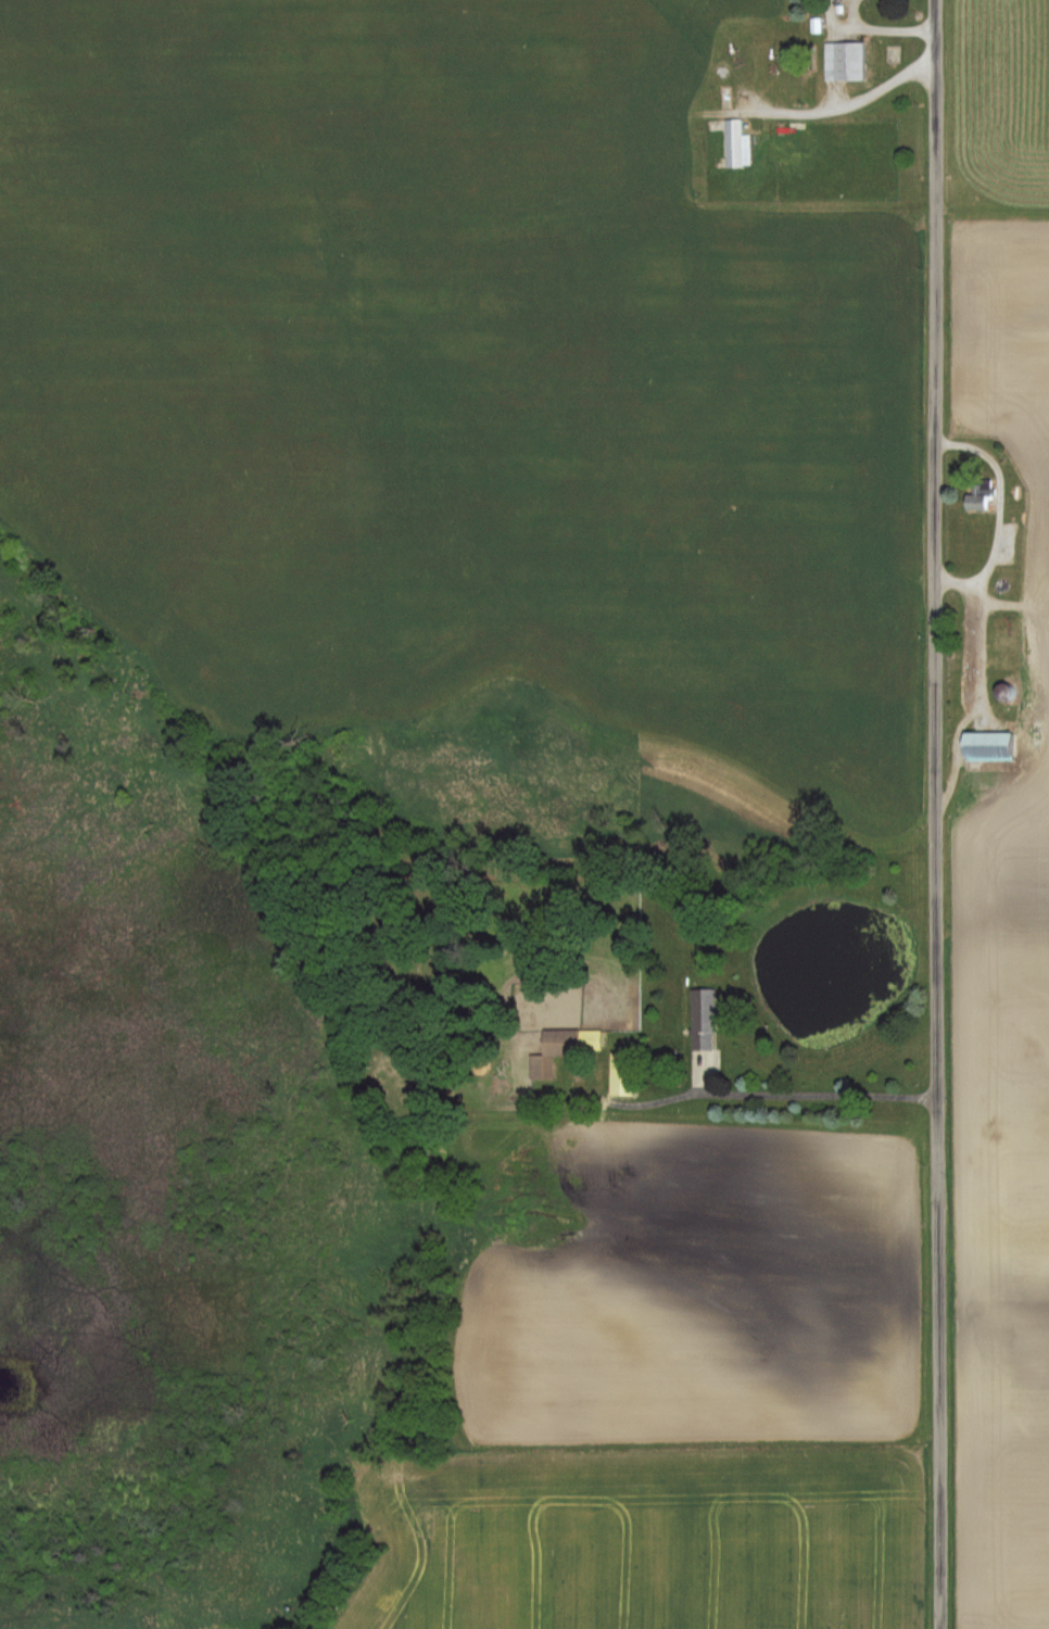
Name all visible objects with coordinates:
building: (844, 61)
building: (733, 143)
building: (976, 497)
road: (998, 508)
building: (1003, 644)
building: (985, 745)
road: (935, 813)
building: (700, 1019)
building: (558, 1049)
building: (617, 1073)
road: (794, 1078)

